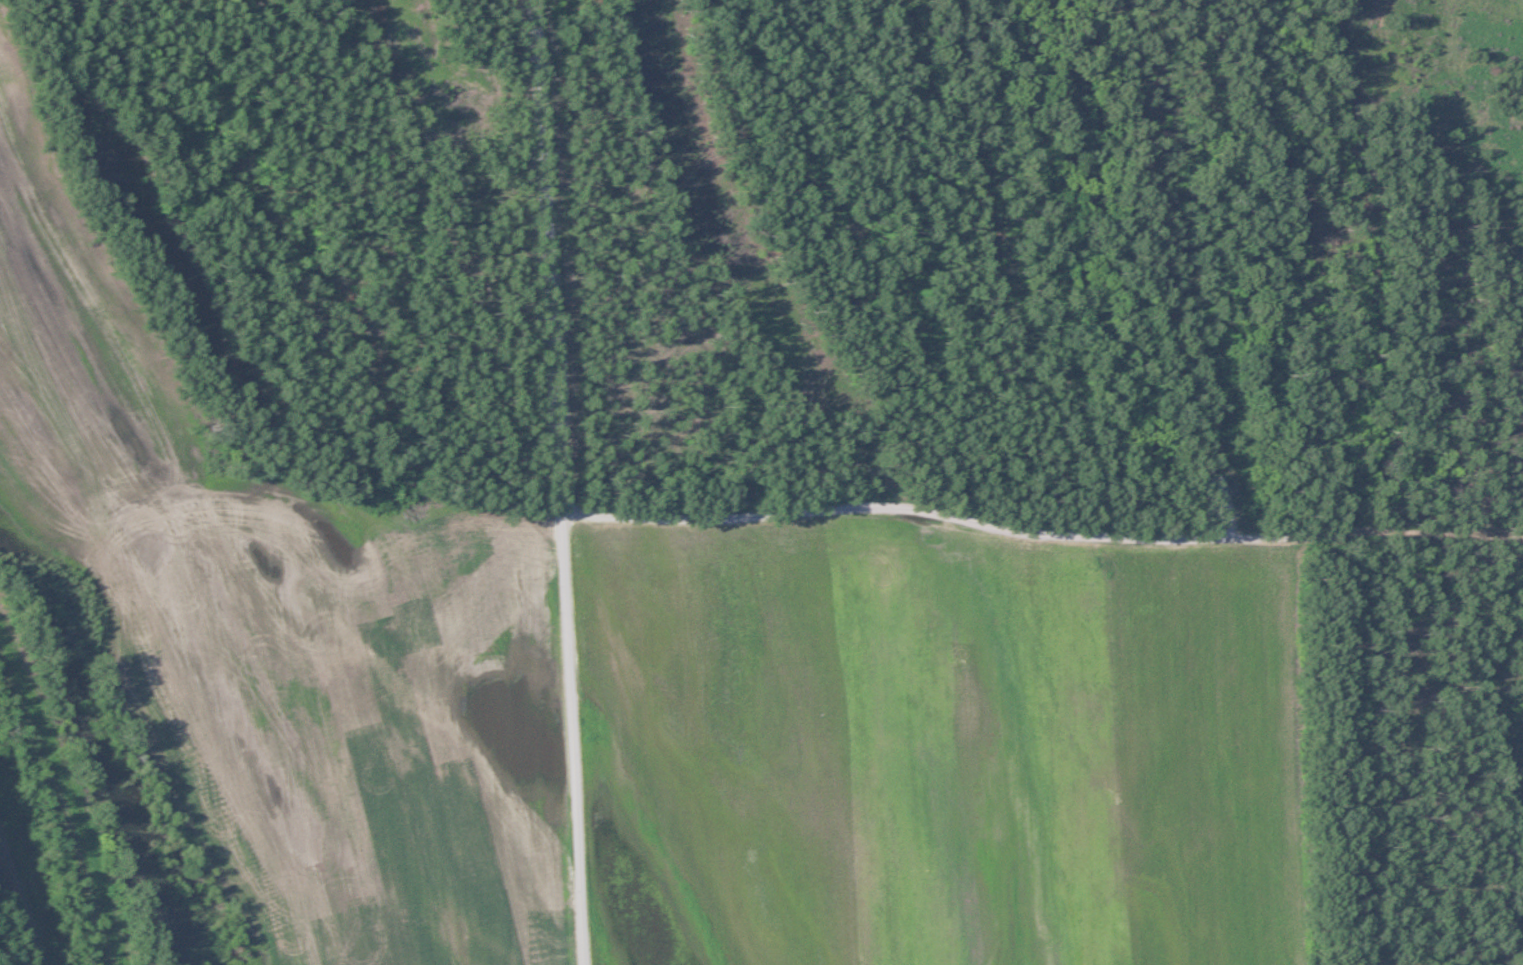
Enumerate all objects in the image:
road: (561, 482)
road: (1045, 525)

